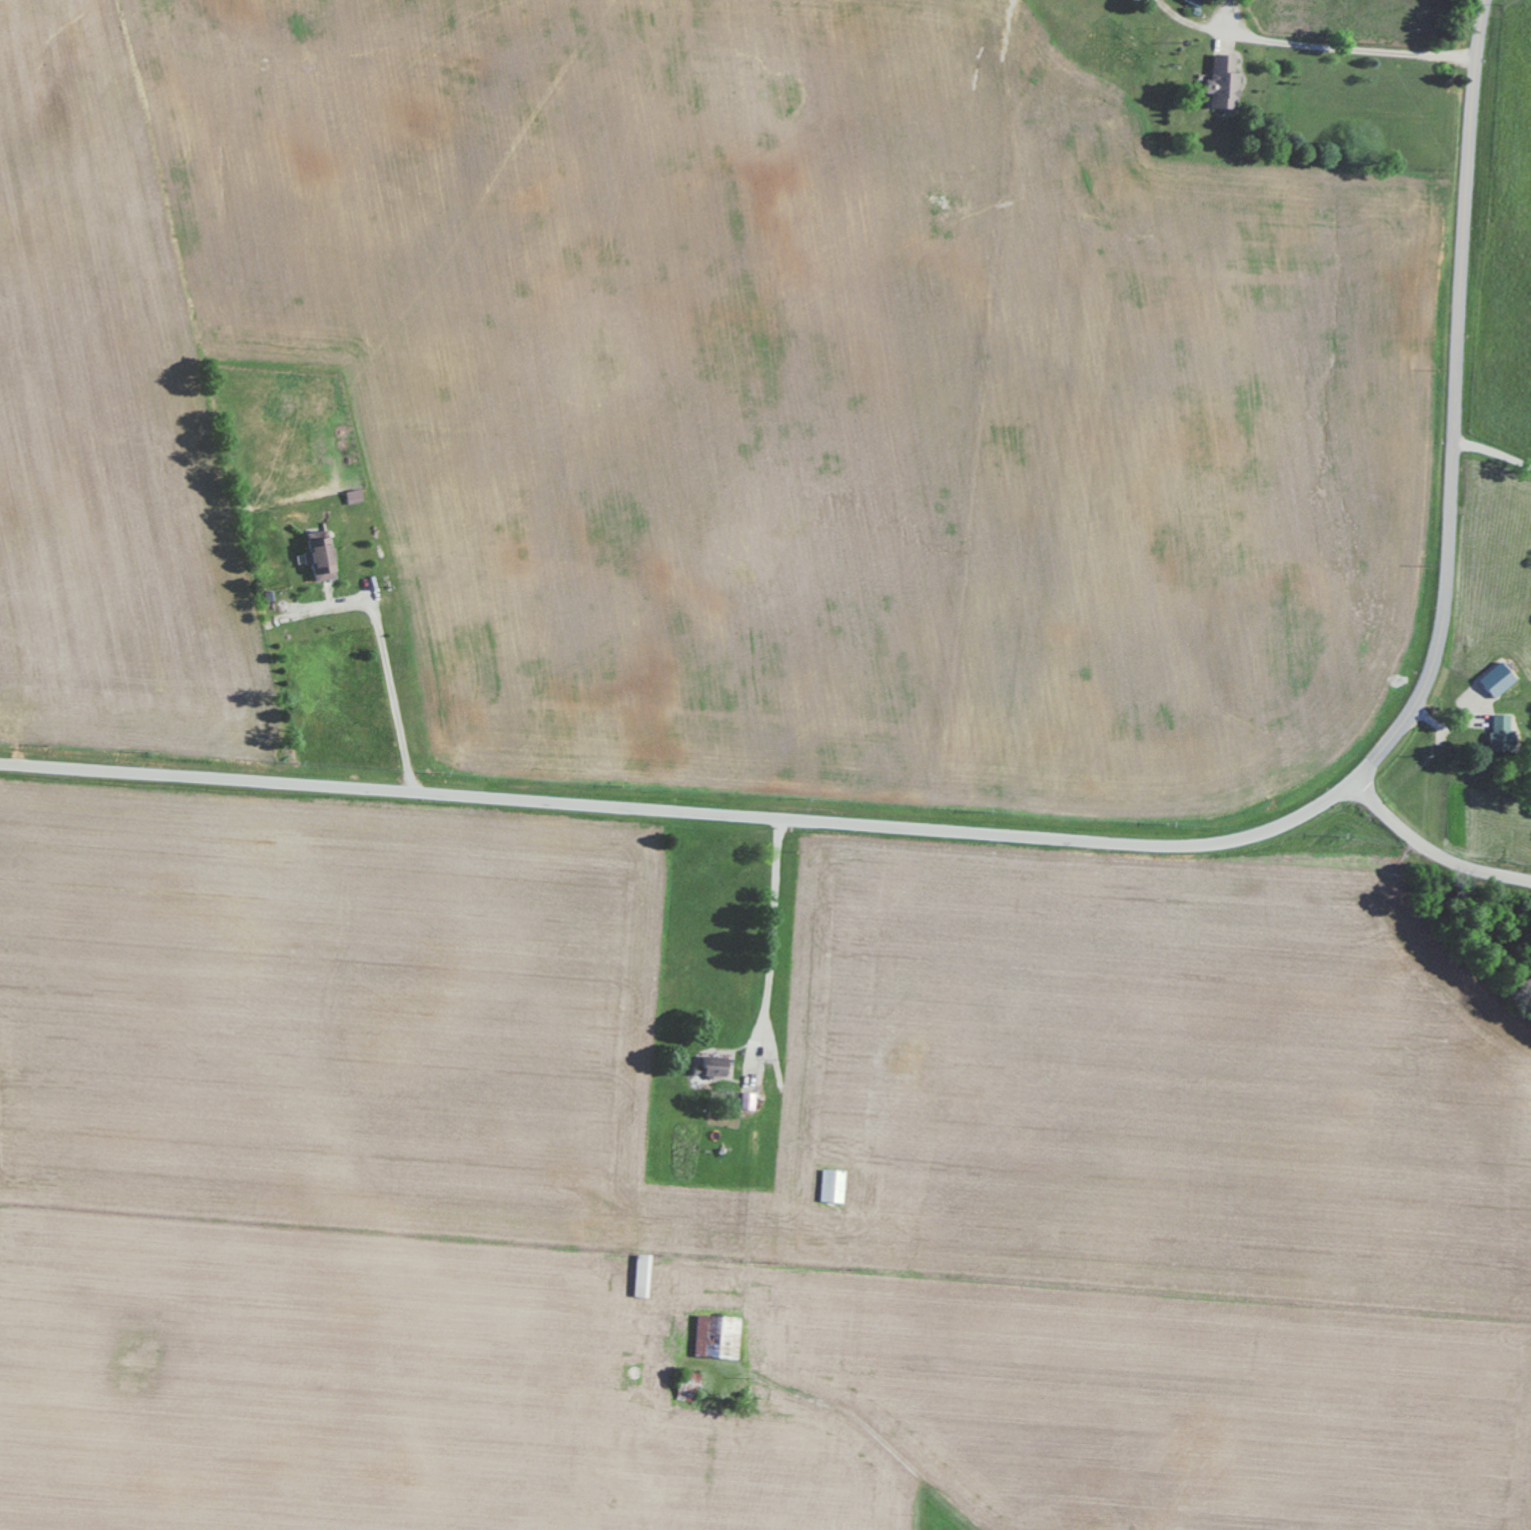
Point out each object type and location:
building: (1225, 83)
road: (1271, 136)
road: (1492, 484)
road: (1451, 501)
building: (1498, 678)
road: (690, 812)
road: (775, 945)
building: (716, 1066)
building: (835, 1185)

